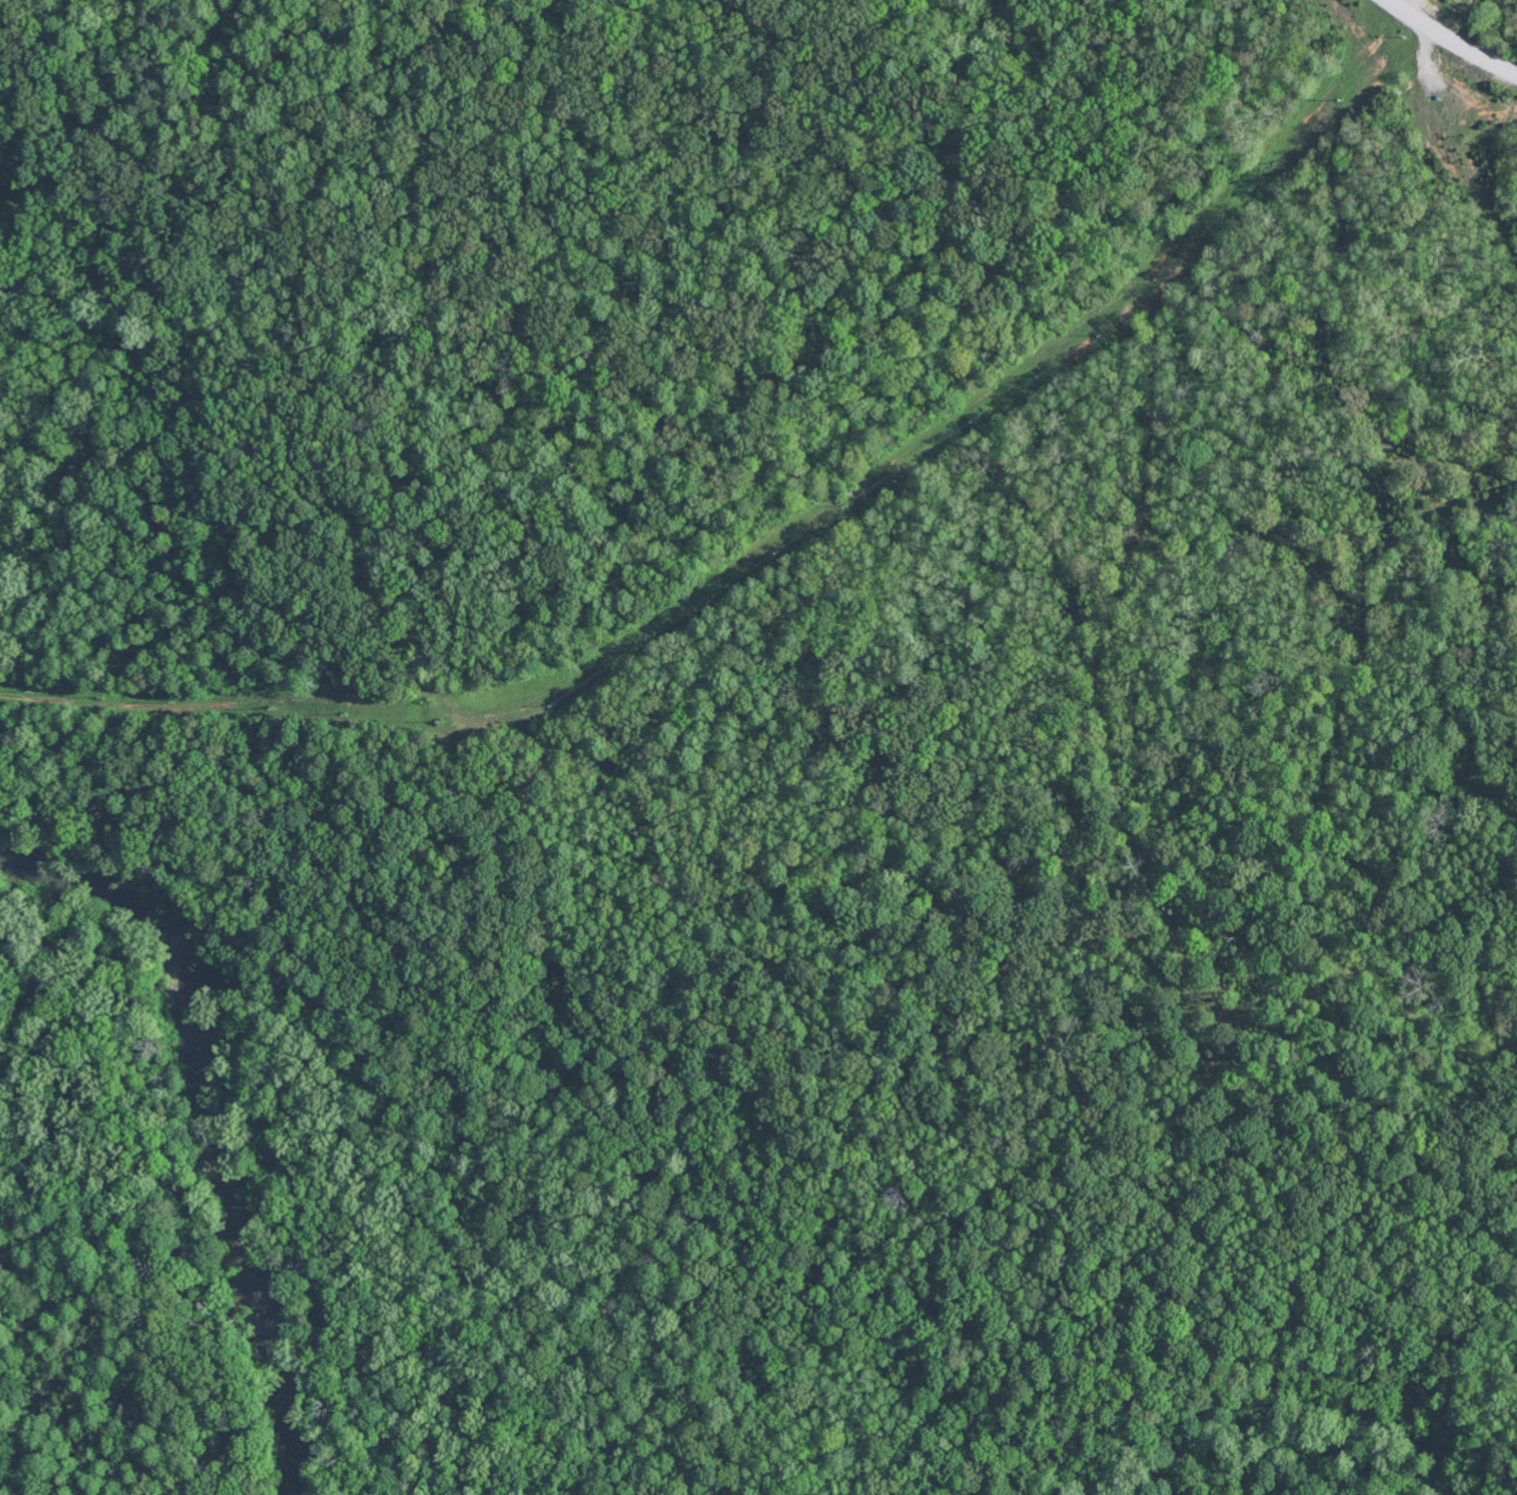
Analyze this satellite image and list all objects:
road: (1451, 37)
river: (221, 1123)
road: (97, 1372)

